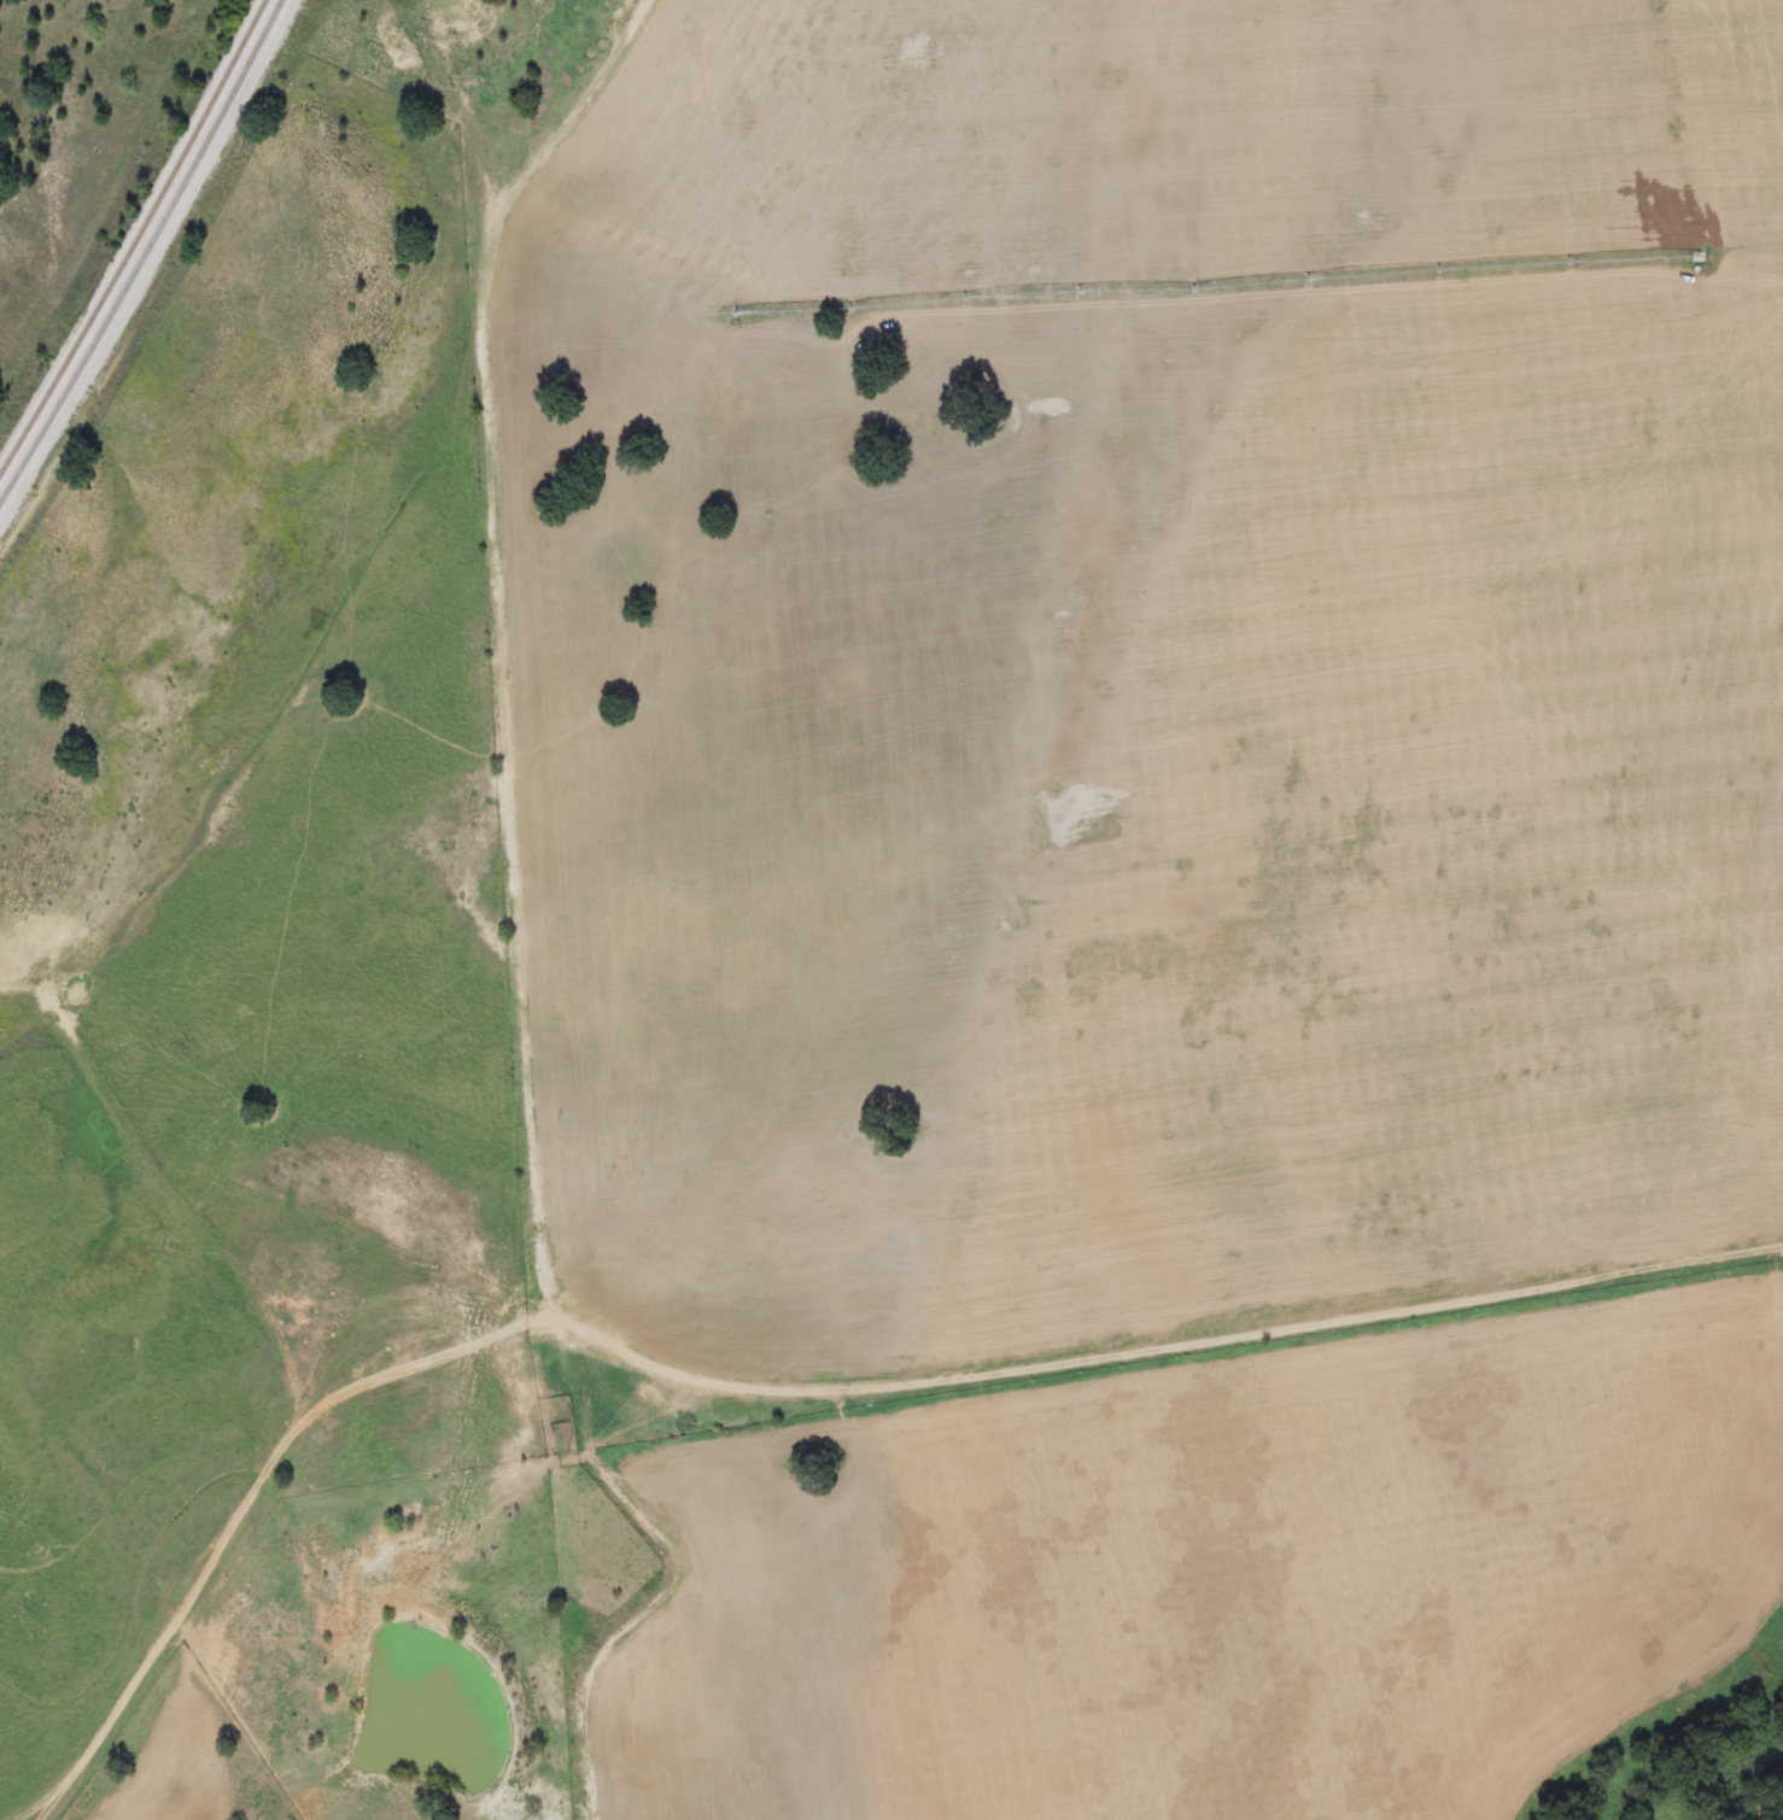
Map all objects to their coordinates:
railway: (135, 235)

